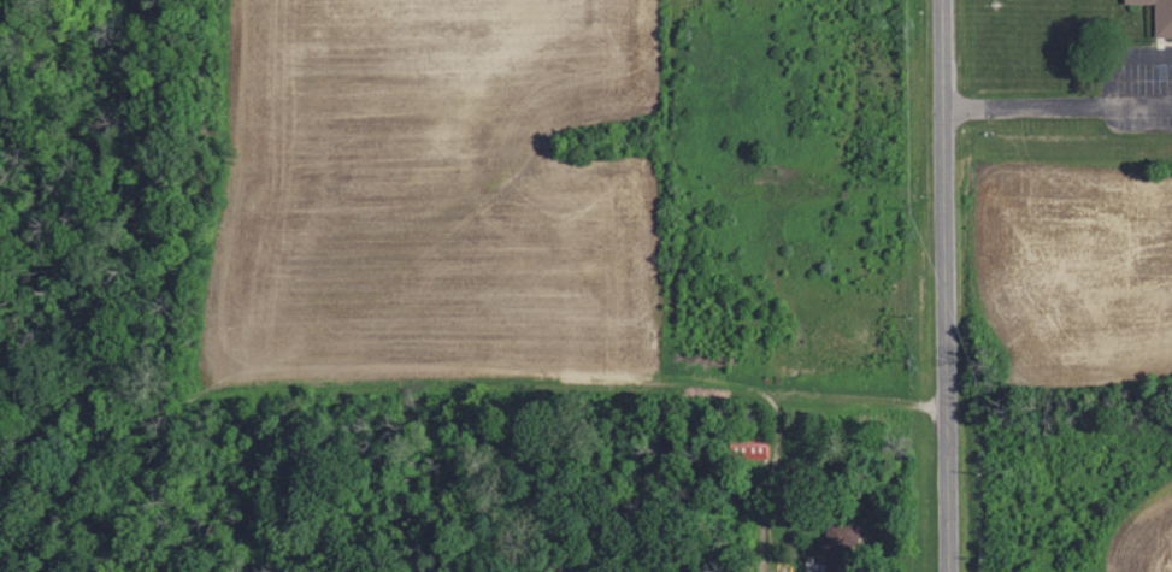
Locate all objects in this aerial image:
building: (1159, 14)
road: (1120, 52)
road: (1138, 100)
road: (1024, 101)
crop: (431, 202)
crop: (1076, 270)
road: (944, 285)
crop: (1144, 536)
building: (837, 544)

